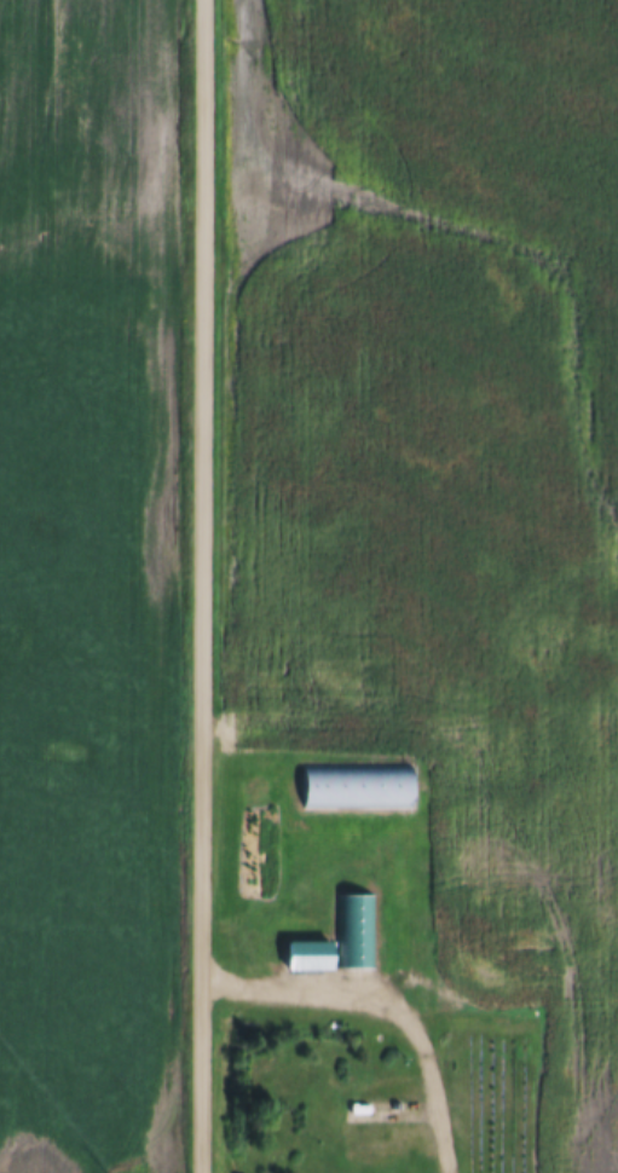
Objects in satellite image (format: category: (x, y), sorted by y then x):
road: (196, 585)
building: (353, 786)
building: (352, 931)
building: (304, 955)
road: (381, 1004)
building: (366, 1132)

